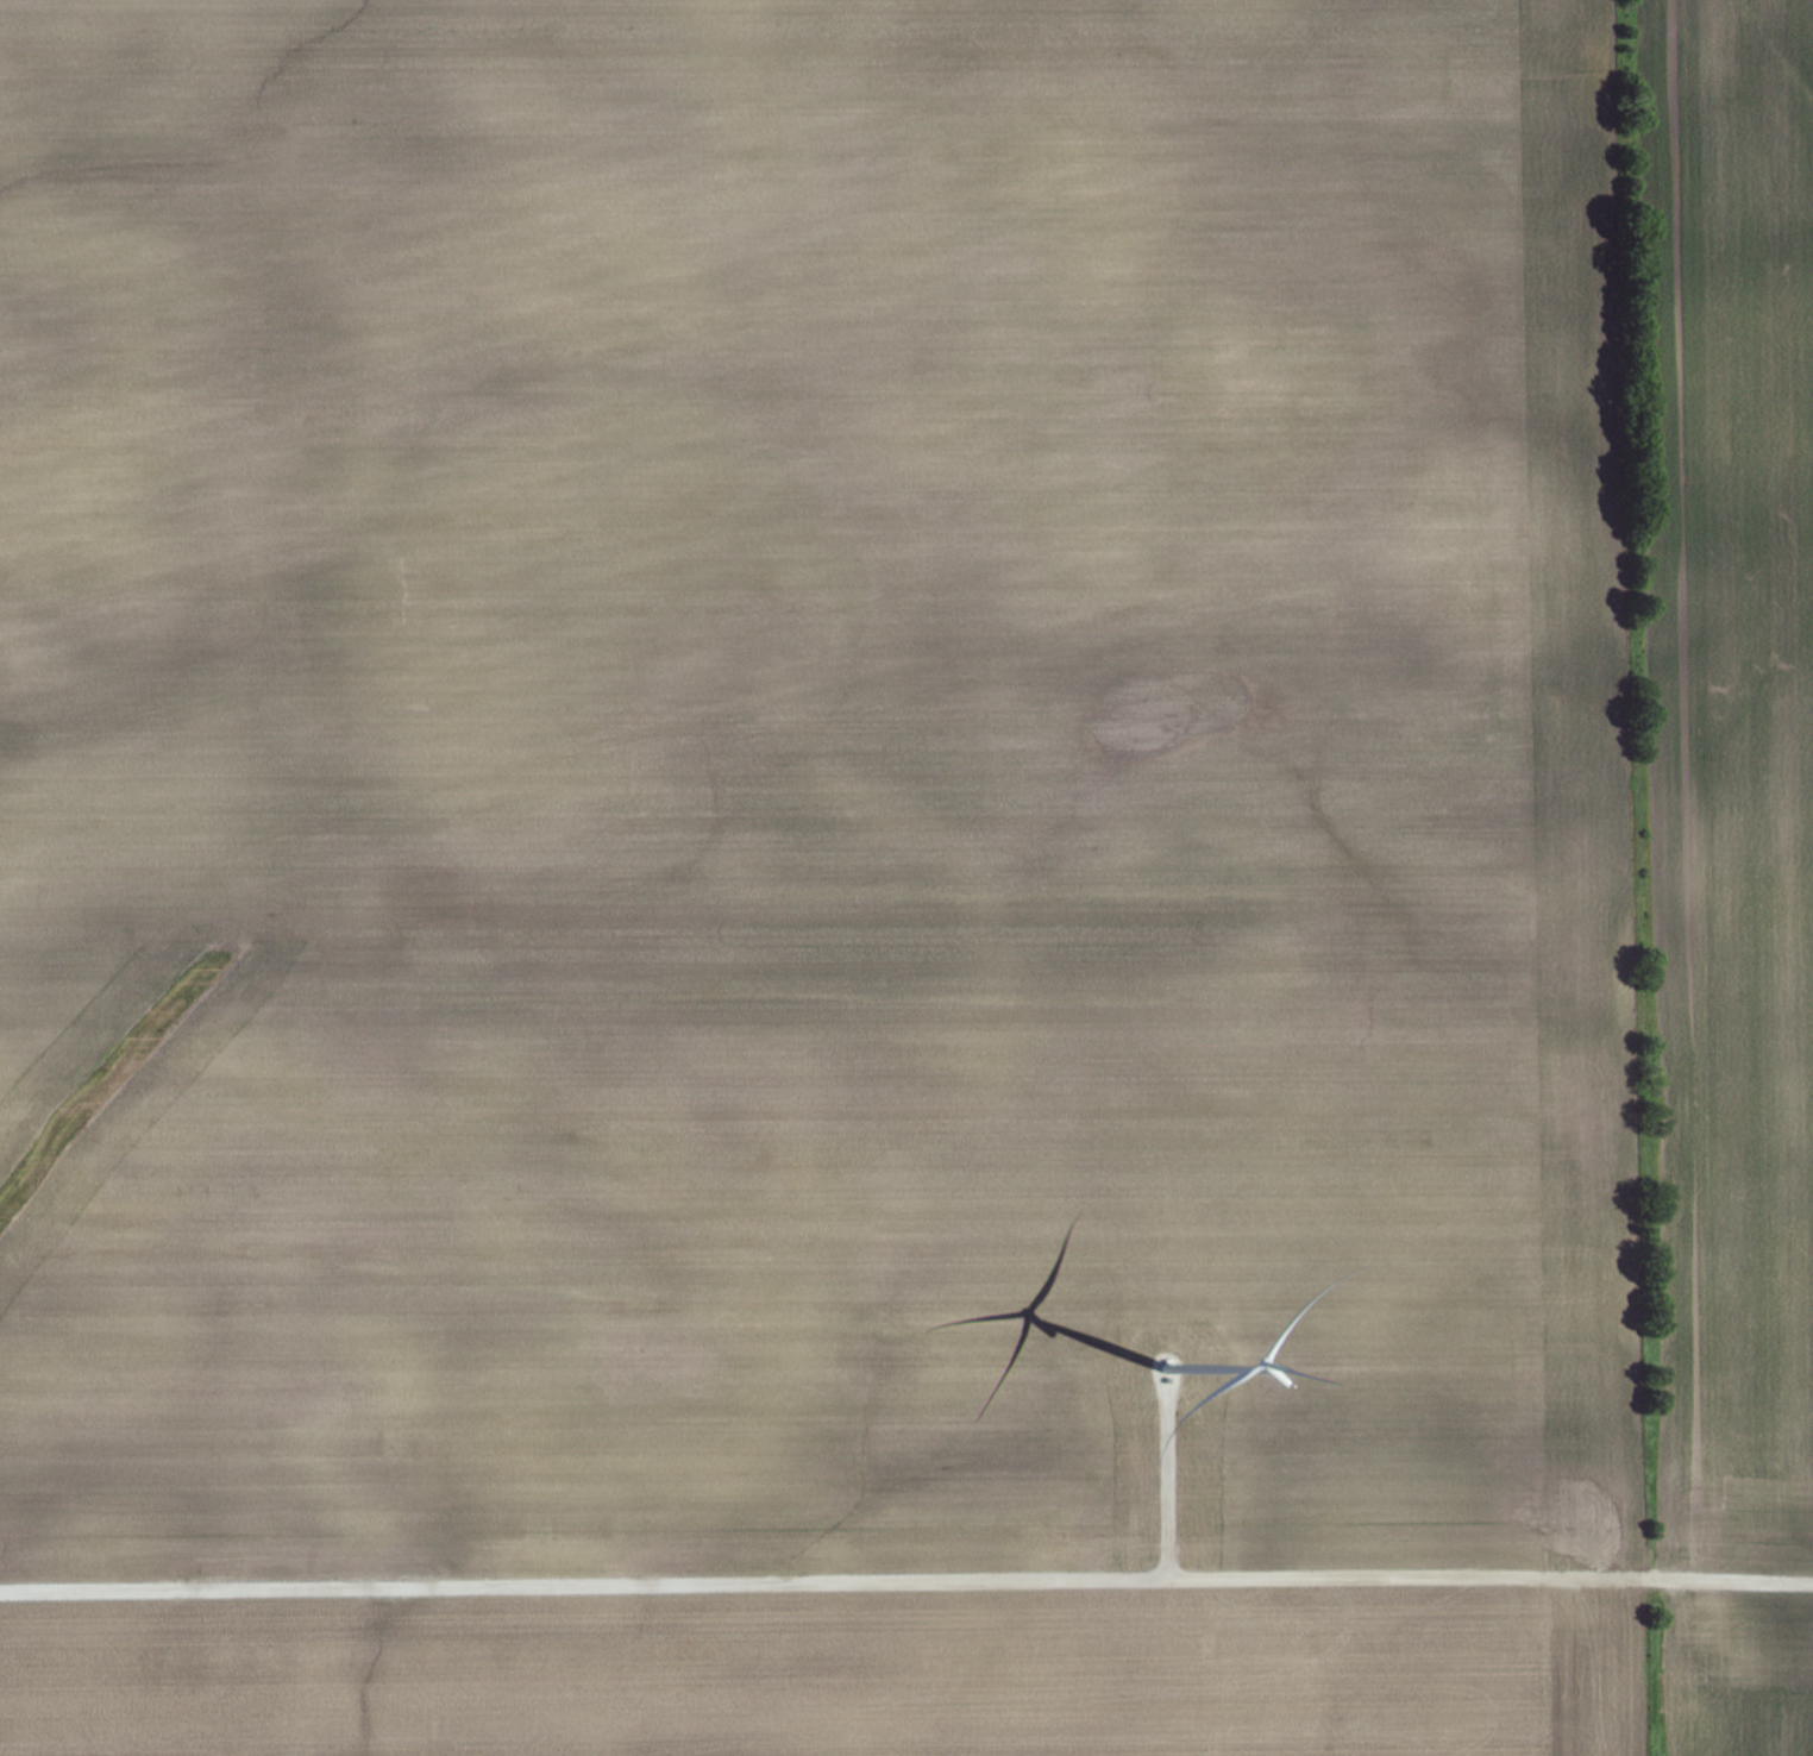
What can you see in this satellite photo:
wind turbine: (1174, 1368)
road: (1167, 1485)
road: (906, 1582)

